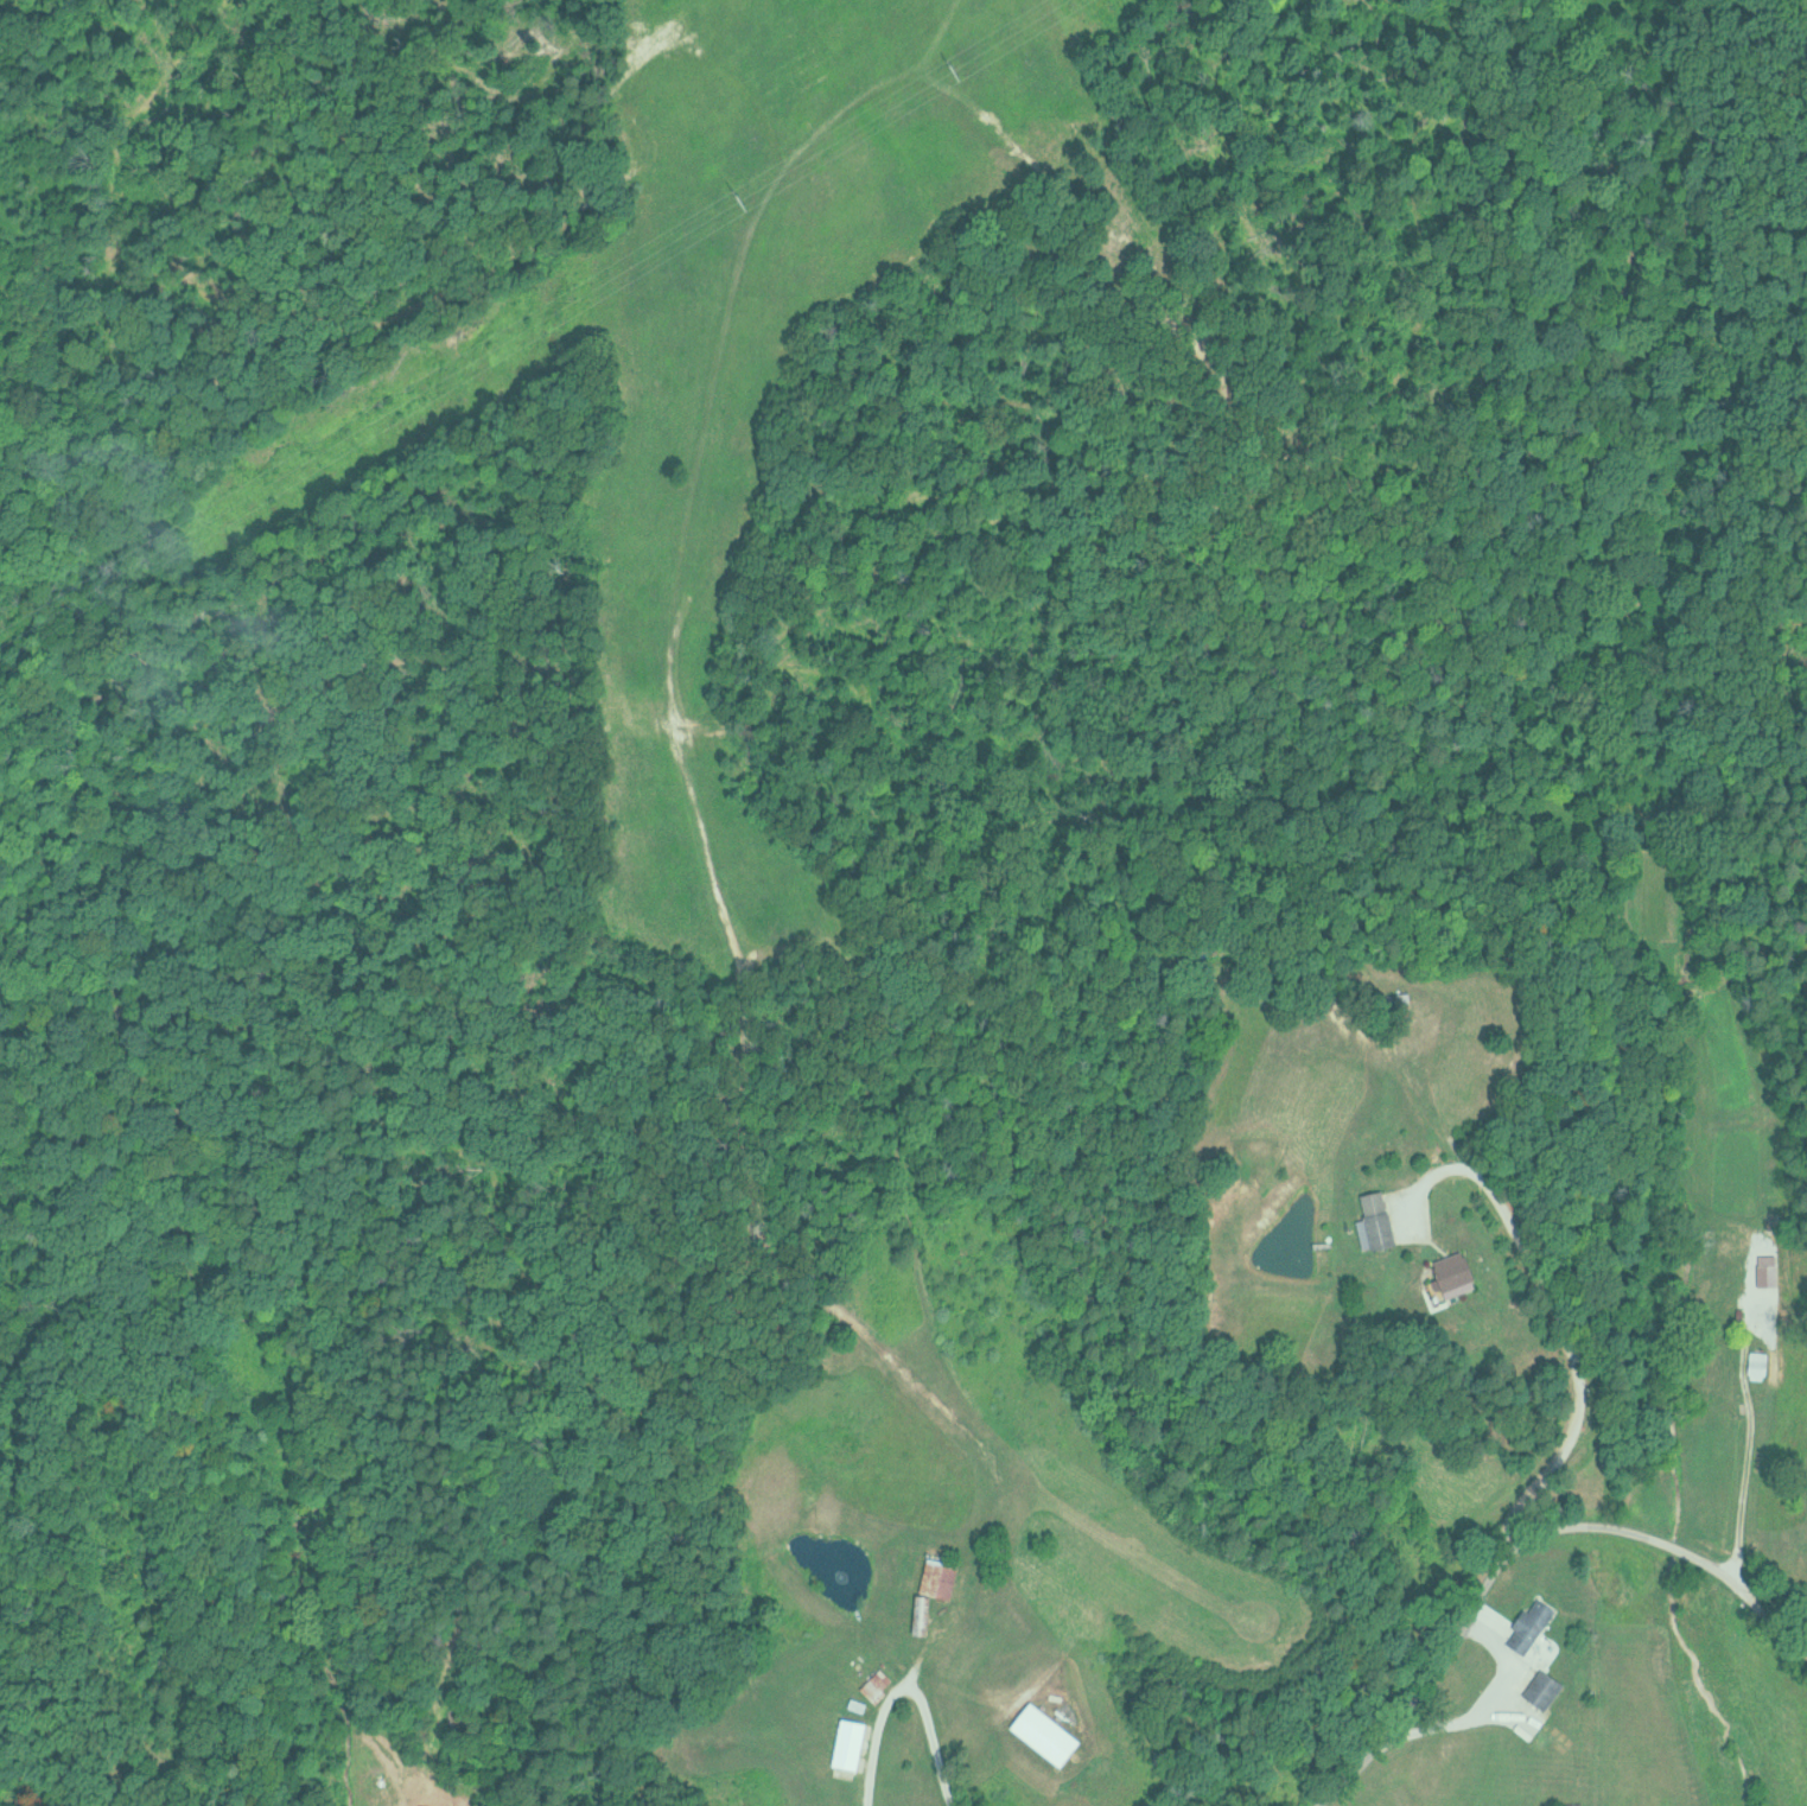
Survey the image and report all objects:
power tower: (953, 68)
building: (1376, 1221)
building: (1458, 1273)
road: (1557, 1322)
building: (1757, 1365)
road: (1743, 1450)
road: (1516, 1556)
building: (935, 1585)
building: (1532, 1624)
road: (1092, 1632)
building: (876, 1685)
building: (1545, 1687)
road: (1478, 1706)
building: (851, 1744)
building: (1572, 1804)

